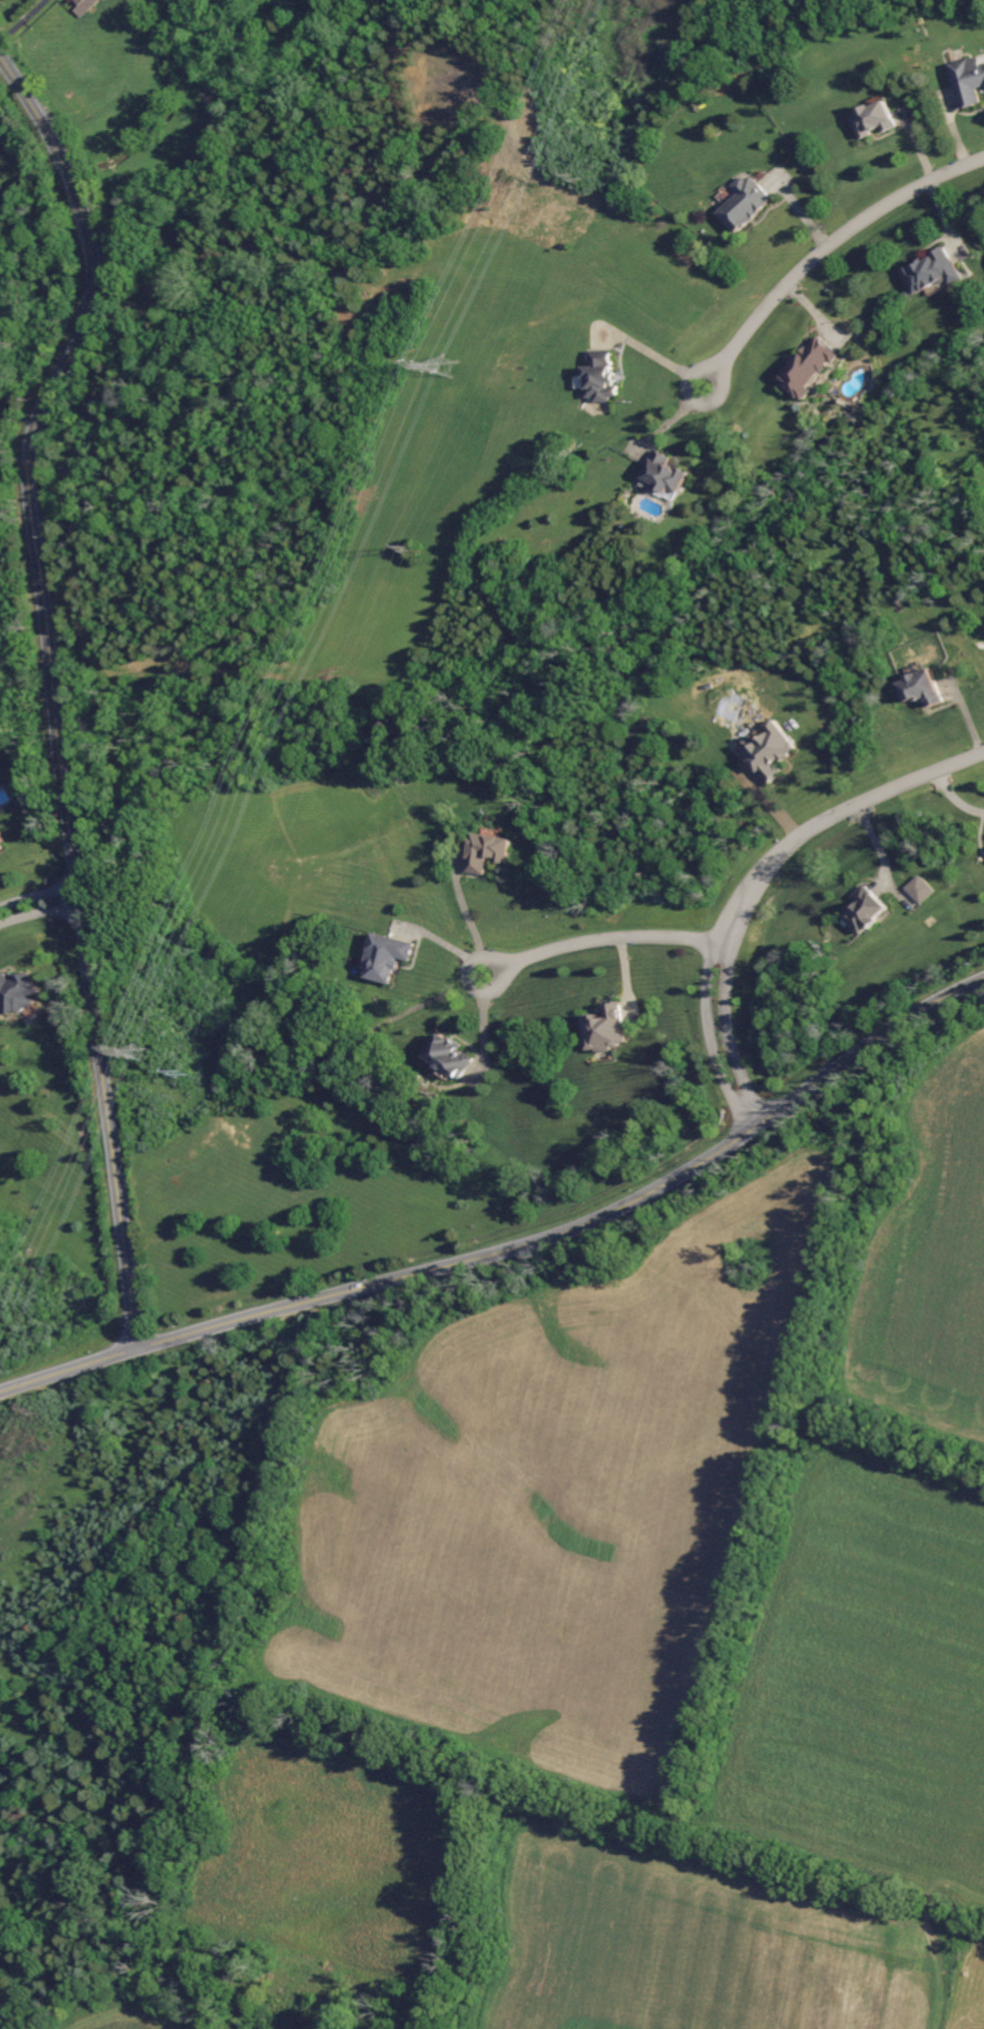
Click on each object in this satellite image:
building: (84, 6)
road: (20, 17)
building: (969, 79)
building: (874, 119)
building: (744, 202)
road: (840, 234)
building: (932, 271)
power tower: (444, 367)
building: (809, 367)
building: (598, 377)
road: (693, 398)
building: (664, 476)
road: (52, 685)
building: (923, 688)
building: (769, 751)
road: (952, 799)
road: (853, 806)
building: (1, 846)
building: (489, 852)
building: (918, 889)
road: (38, 893)
building: (864, 910)
road: (39, 913)
road: (464, 921)
road: (608, 936)
building: (385, 957)
building: (16, 993)
road: (728, 1012)
road: (708, 1014)
road: (479, 1022)
building: (605, 1029)
power tower: (144, 1051)
building: (449, 1056)
road: (586, 1221)
road: (69, 1369)

